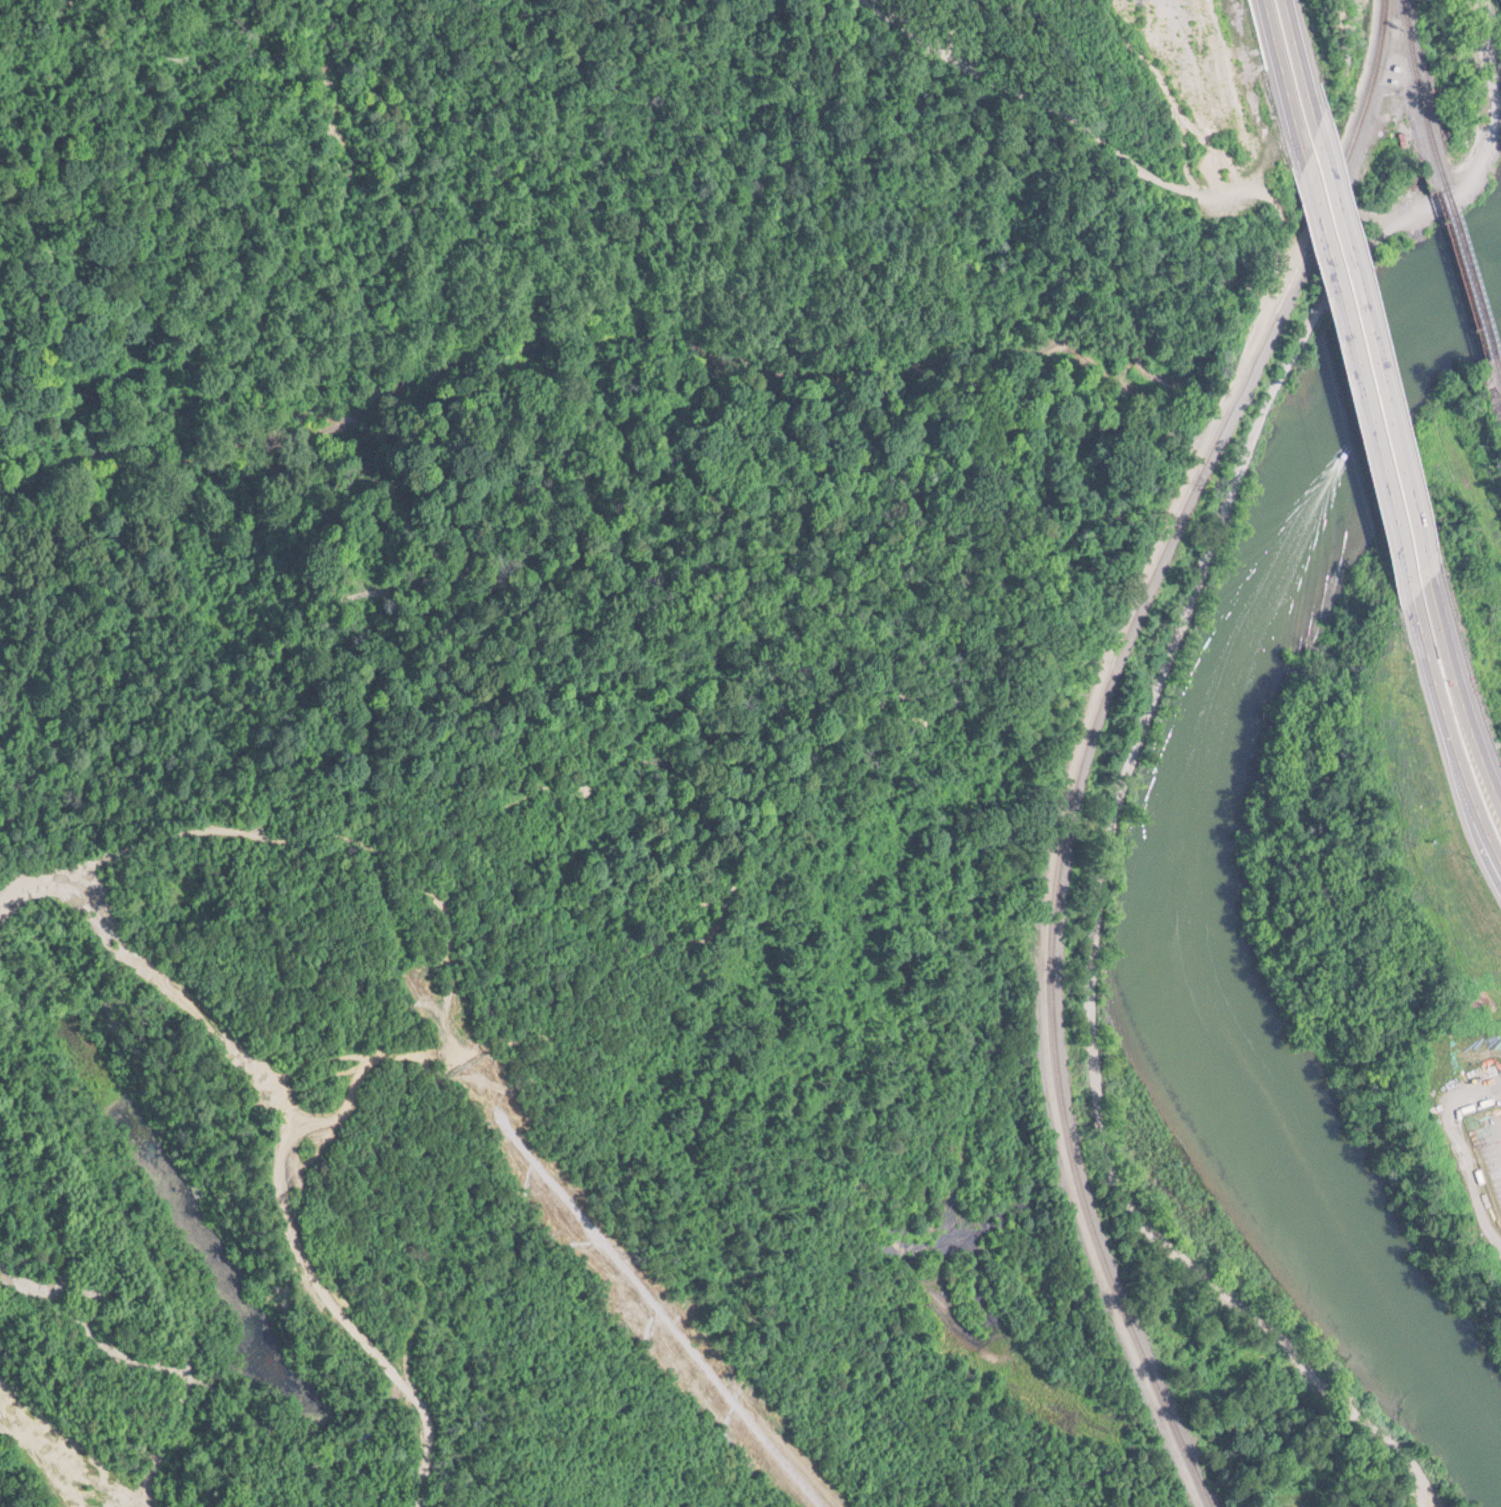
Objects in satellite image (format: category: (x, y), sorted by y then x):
road: (1306, 61)
road: (1284, 77)
railway: (1415, 95)
road: (1462, 128)
building: (1405, 138)
railway: (1468, 272)
road: (644, 335)
road: (1381, 346)
railway: (1498, 367)
road: (1361, 373)
road: (1445, 610)
road: (1424, 626)
road: (1442, 654)
road: (1474, 722)
railway: (1087, 738)
road: (1462, 757)
river: (1183, 865)
road: (1098, 882)
road: (75, 1452)

